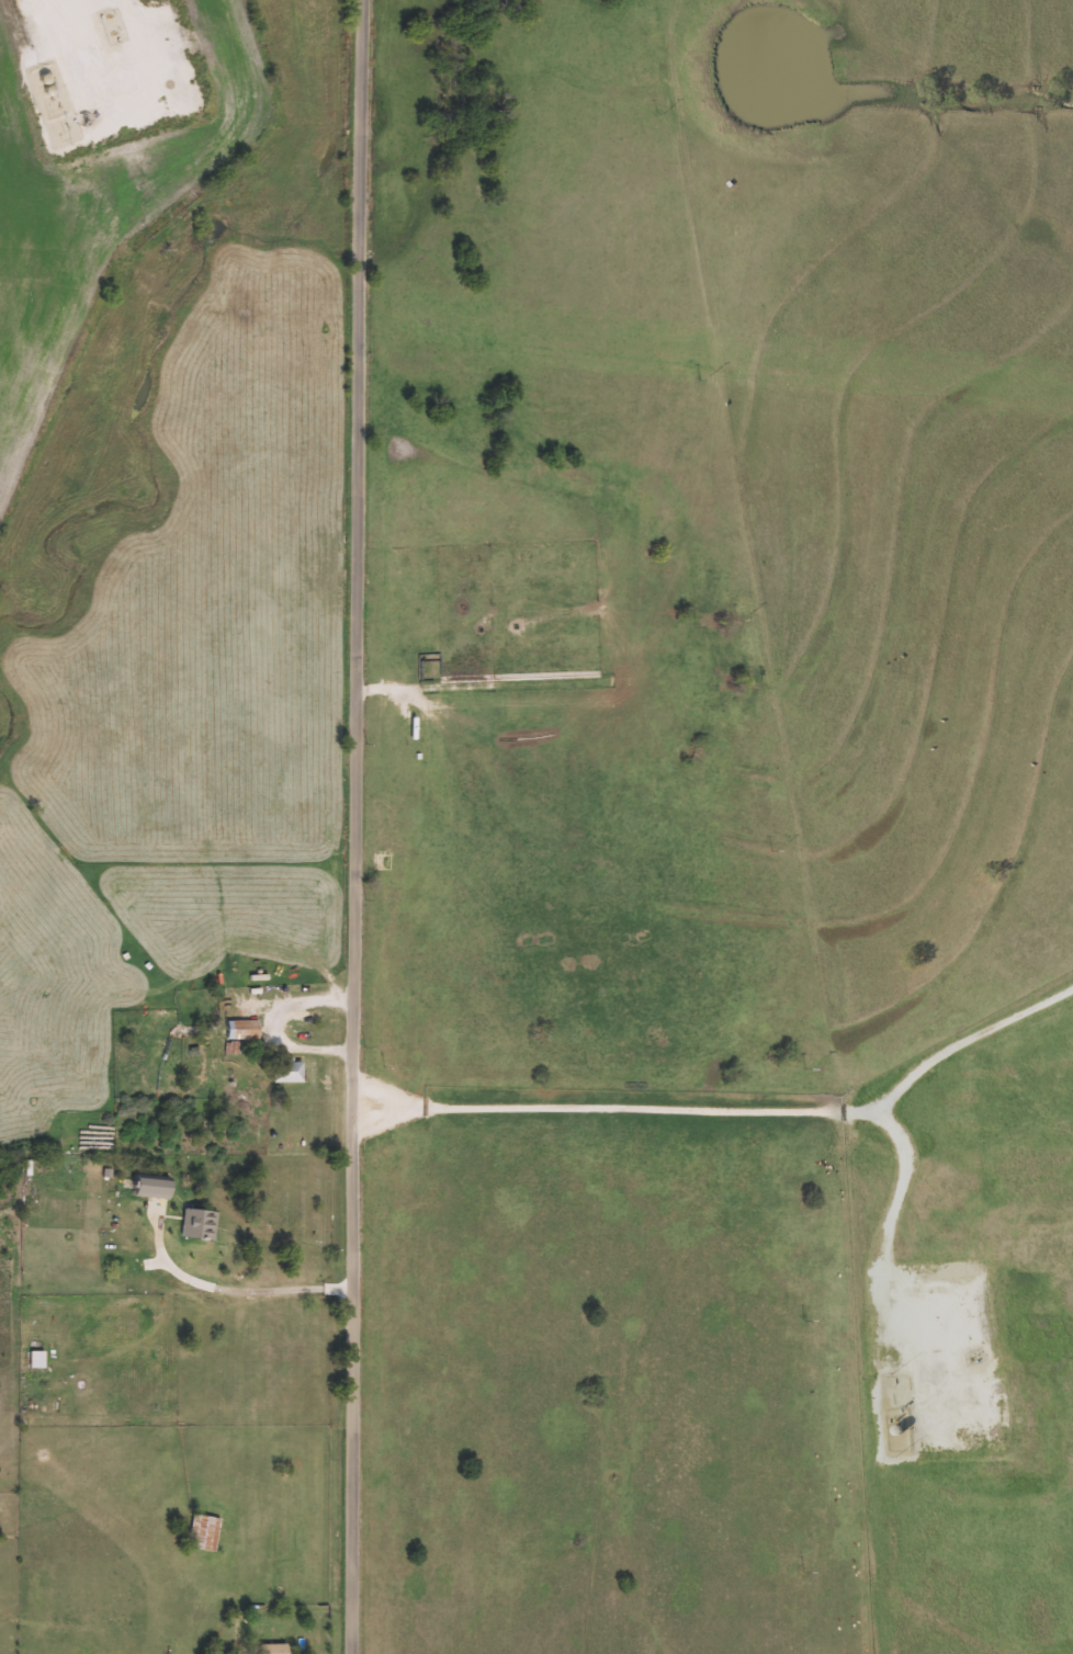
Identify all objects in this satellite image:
road: (353, 826)
building: (246, 1029)
building: (290, 1069)
building: (109, 1187)
building: (156, 1188)
building: (200, 1223)
road: (237, 1290)
building: (38, 1359)
building: (205, 1532)
building: (274, 1649)

